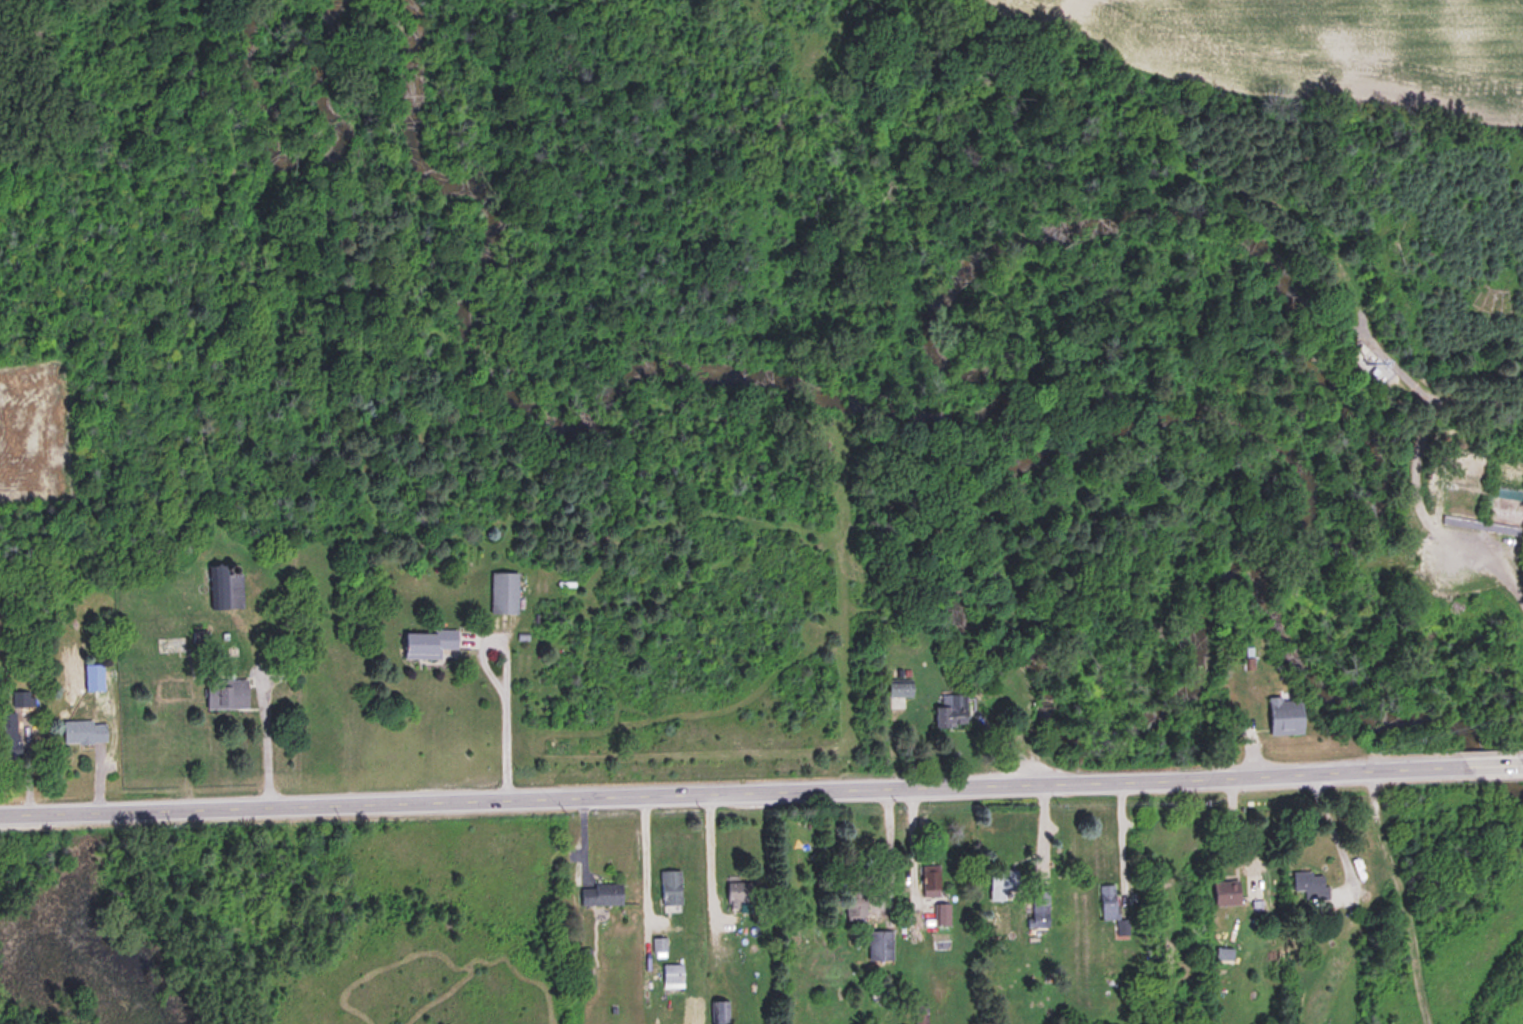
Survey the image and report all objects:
building: (1369, 365)
building: (1481, 526)
building: (216, 583)
building: (502, 593)
building: (426, 644)
building: (899, 692)
building: (224, 696)
building: (18, 700)
building: (951, 712)
building: (1285, 717)
road: (499, 727)
building: (82, 733)
building: (7, 737)
road: (261, 739)
road: (1519, 765)
road: (1487, 766)
road: (729, 790)
road: (1325, 832)
road: (1040, 833)
road: (1118, 842)
road: (885, 845)
road: (708, 847)
road: (910, 850)
road: (643, 853)
building: (929, 880)
building: (1001, 883)
building: (1308, 883)
building: (669, 887)
building: (738, 893)
building: (1225, 893)
building: (600, 894)
road: (1401, 897)
building: (854, 900)
building: (1107, 901)
building: (1038, 910)
building: (941, 913)
building: (659, 944)
building: (878, 945)
building: (581, 960)
building: (672, 976)
building: (719, 1012)

